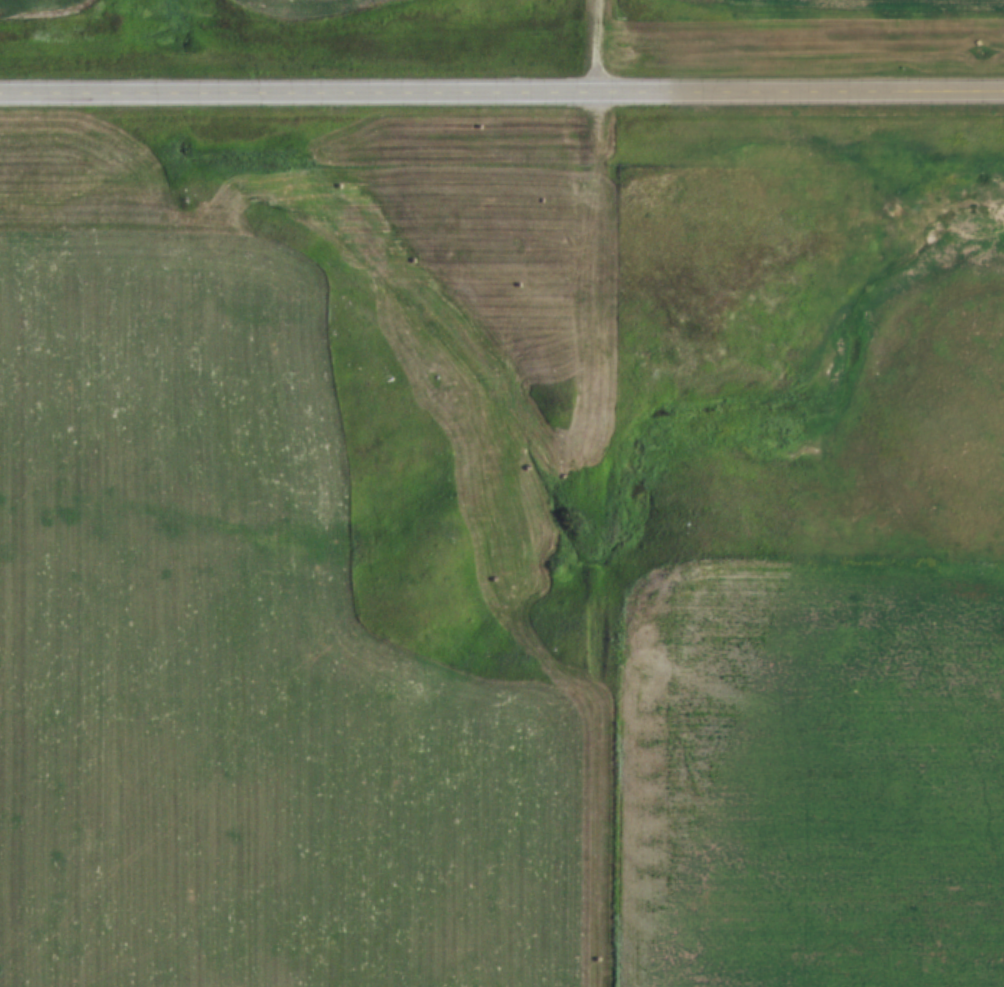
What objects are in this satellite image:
road: (603, 47)
road: (502, 94)

